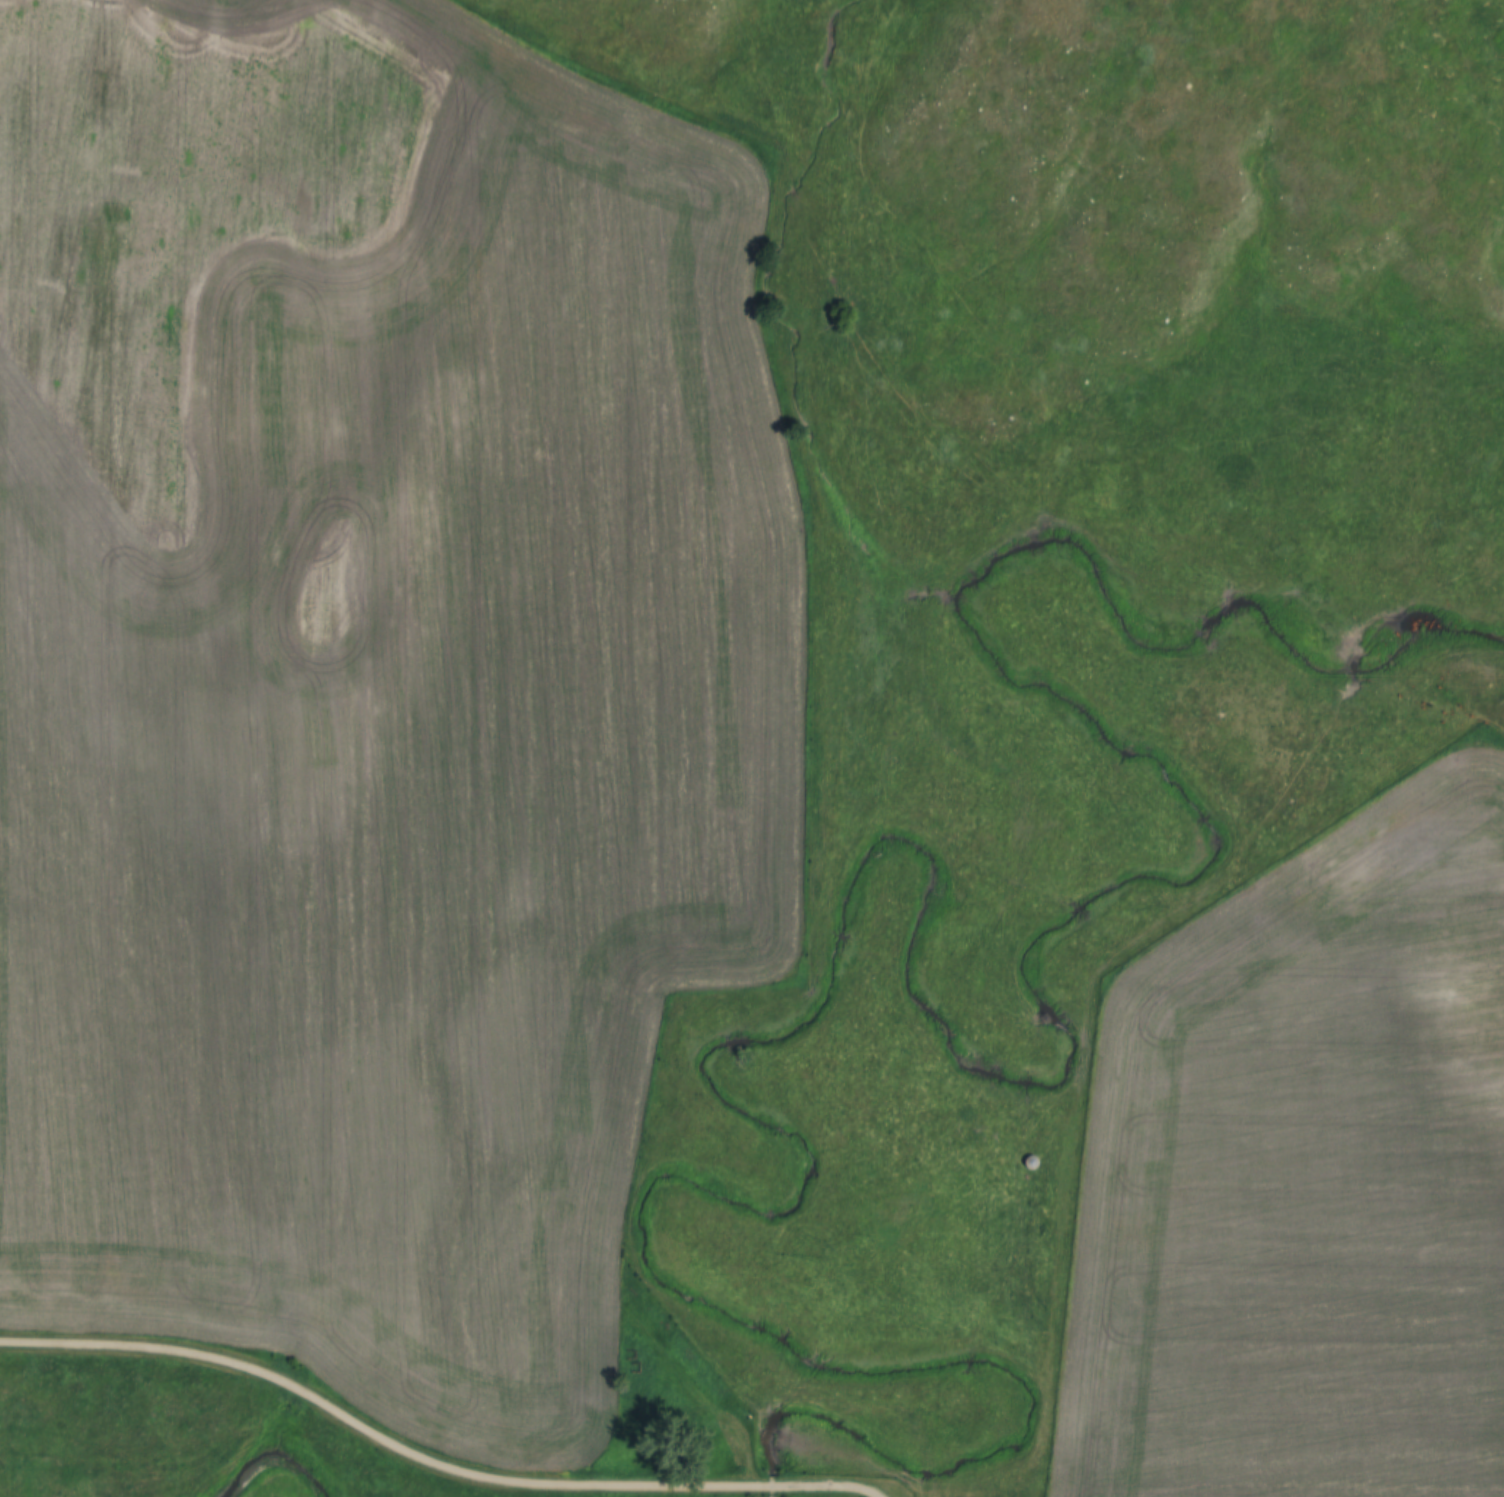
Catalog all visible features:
building: (1032, 1163)
road: (430, 1459)

